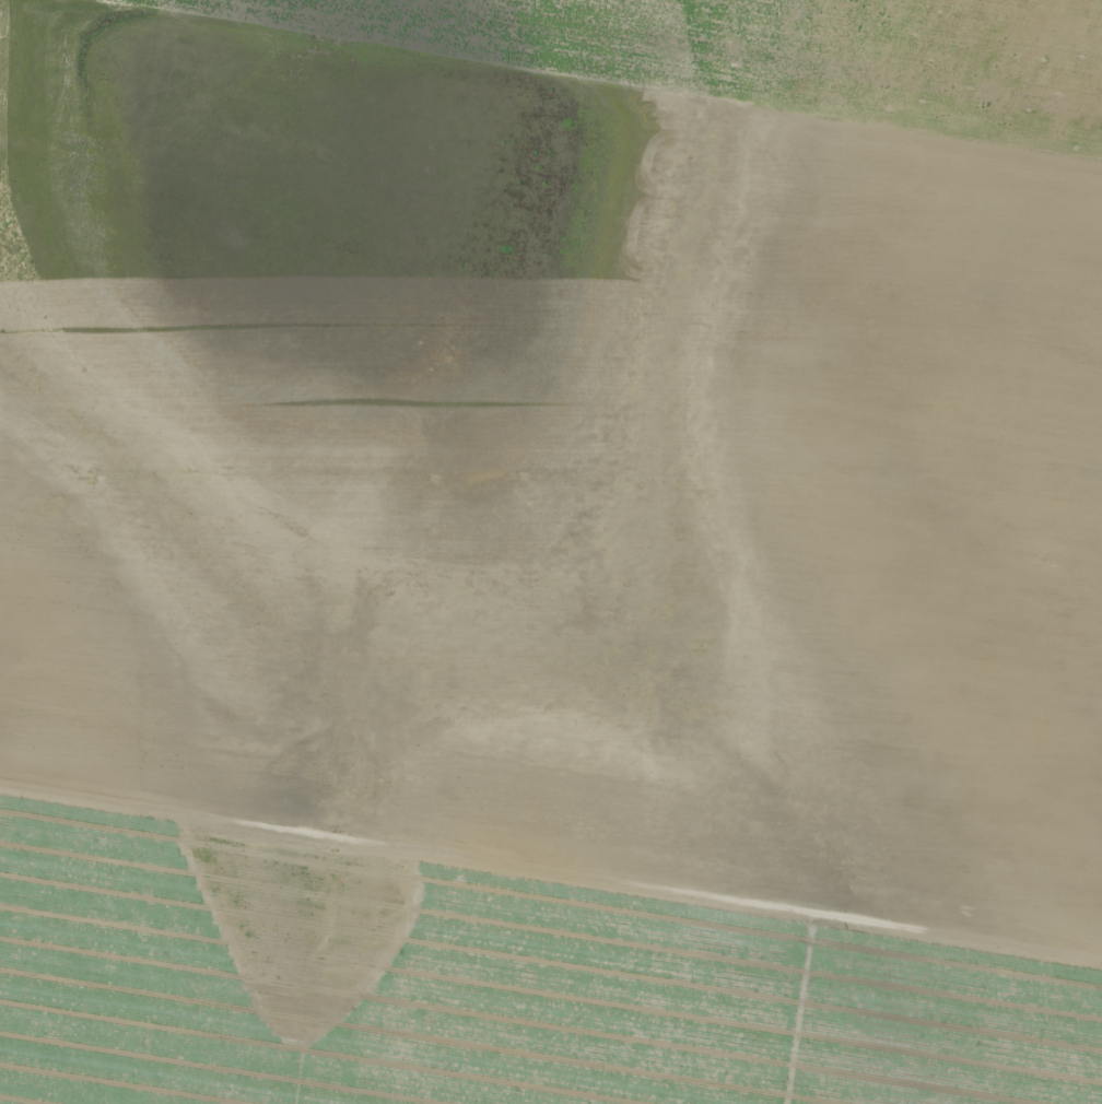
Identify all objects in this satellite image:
road: (819, 189)

